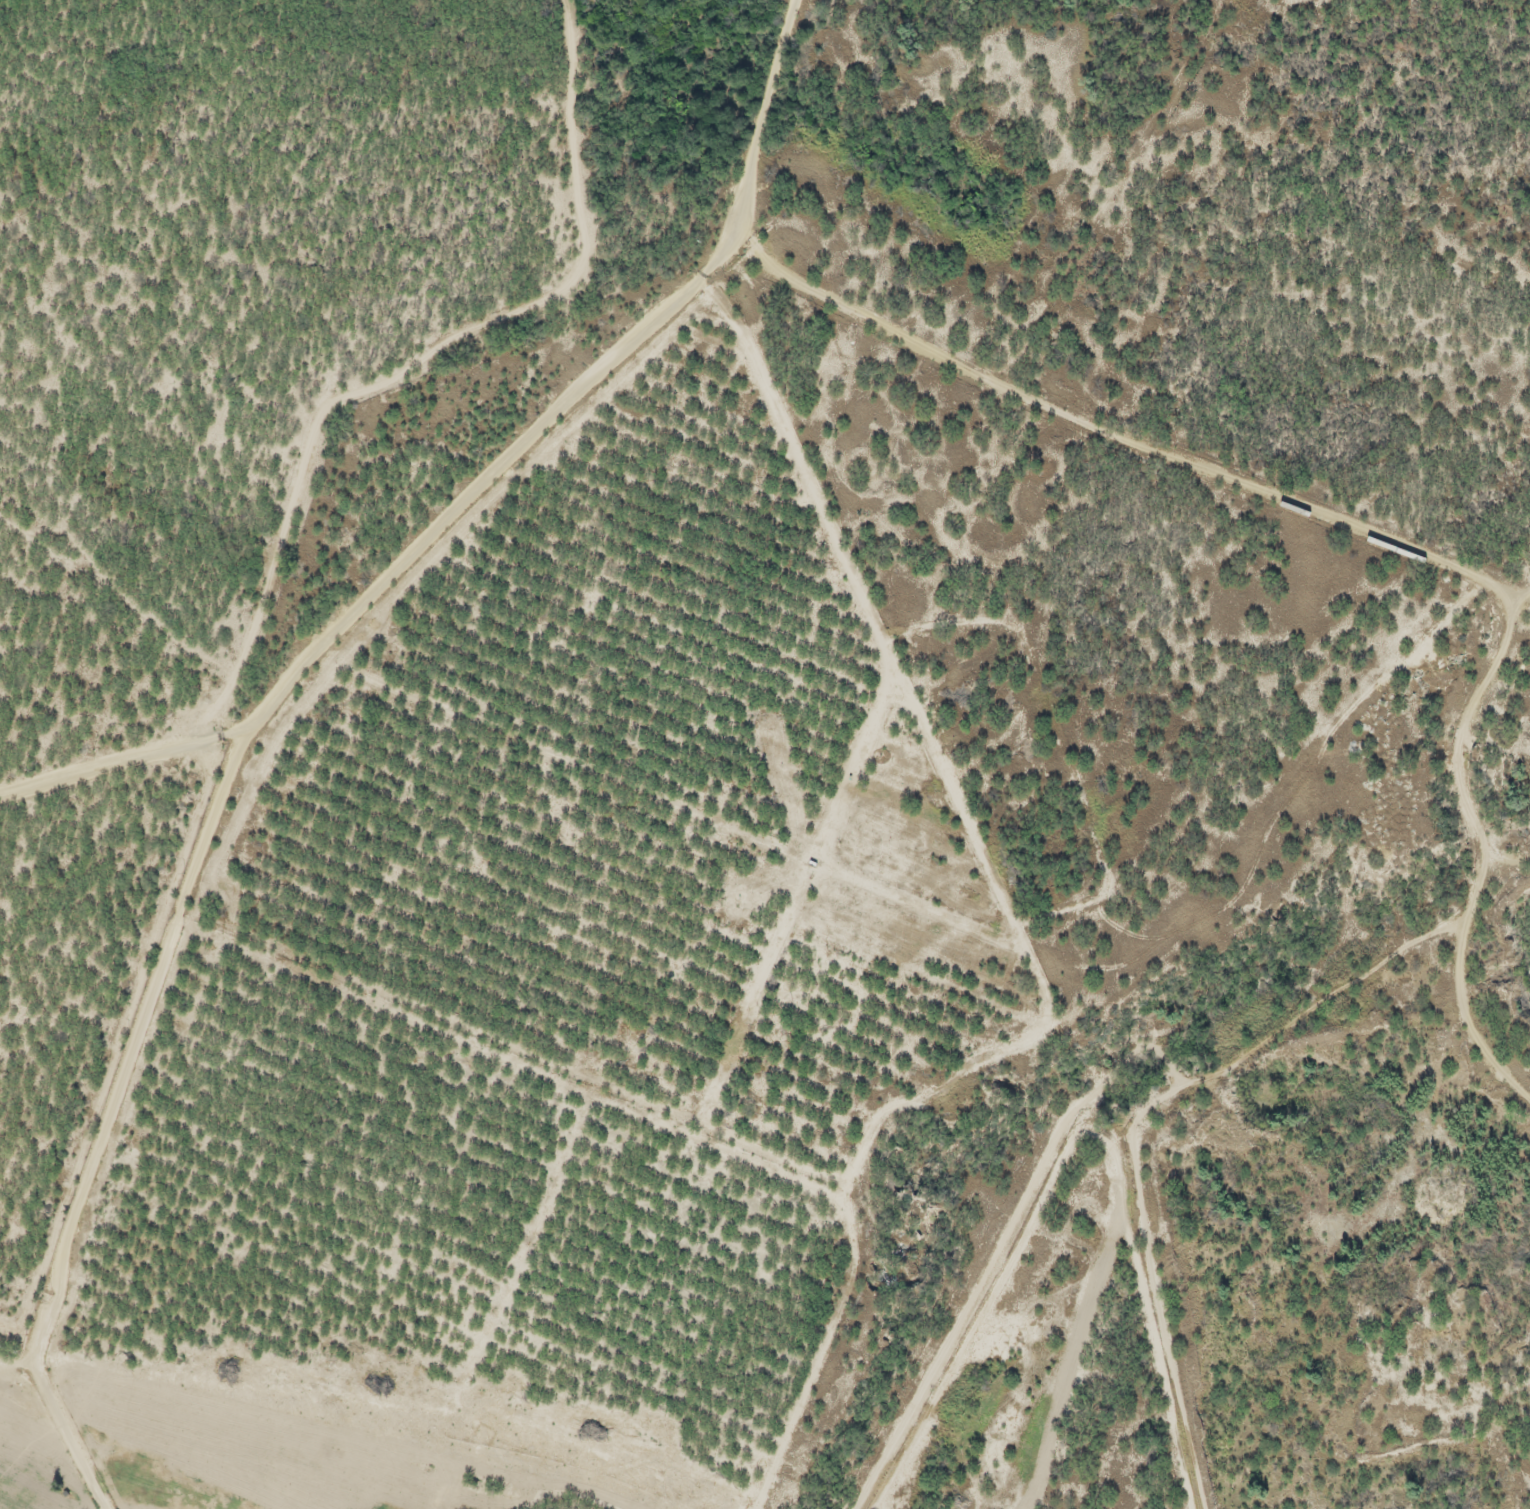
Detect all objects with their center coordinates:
road: (424, 922)
road: (859, 1150)

